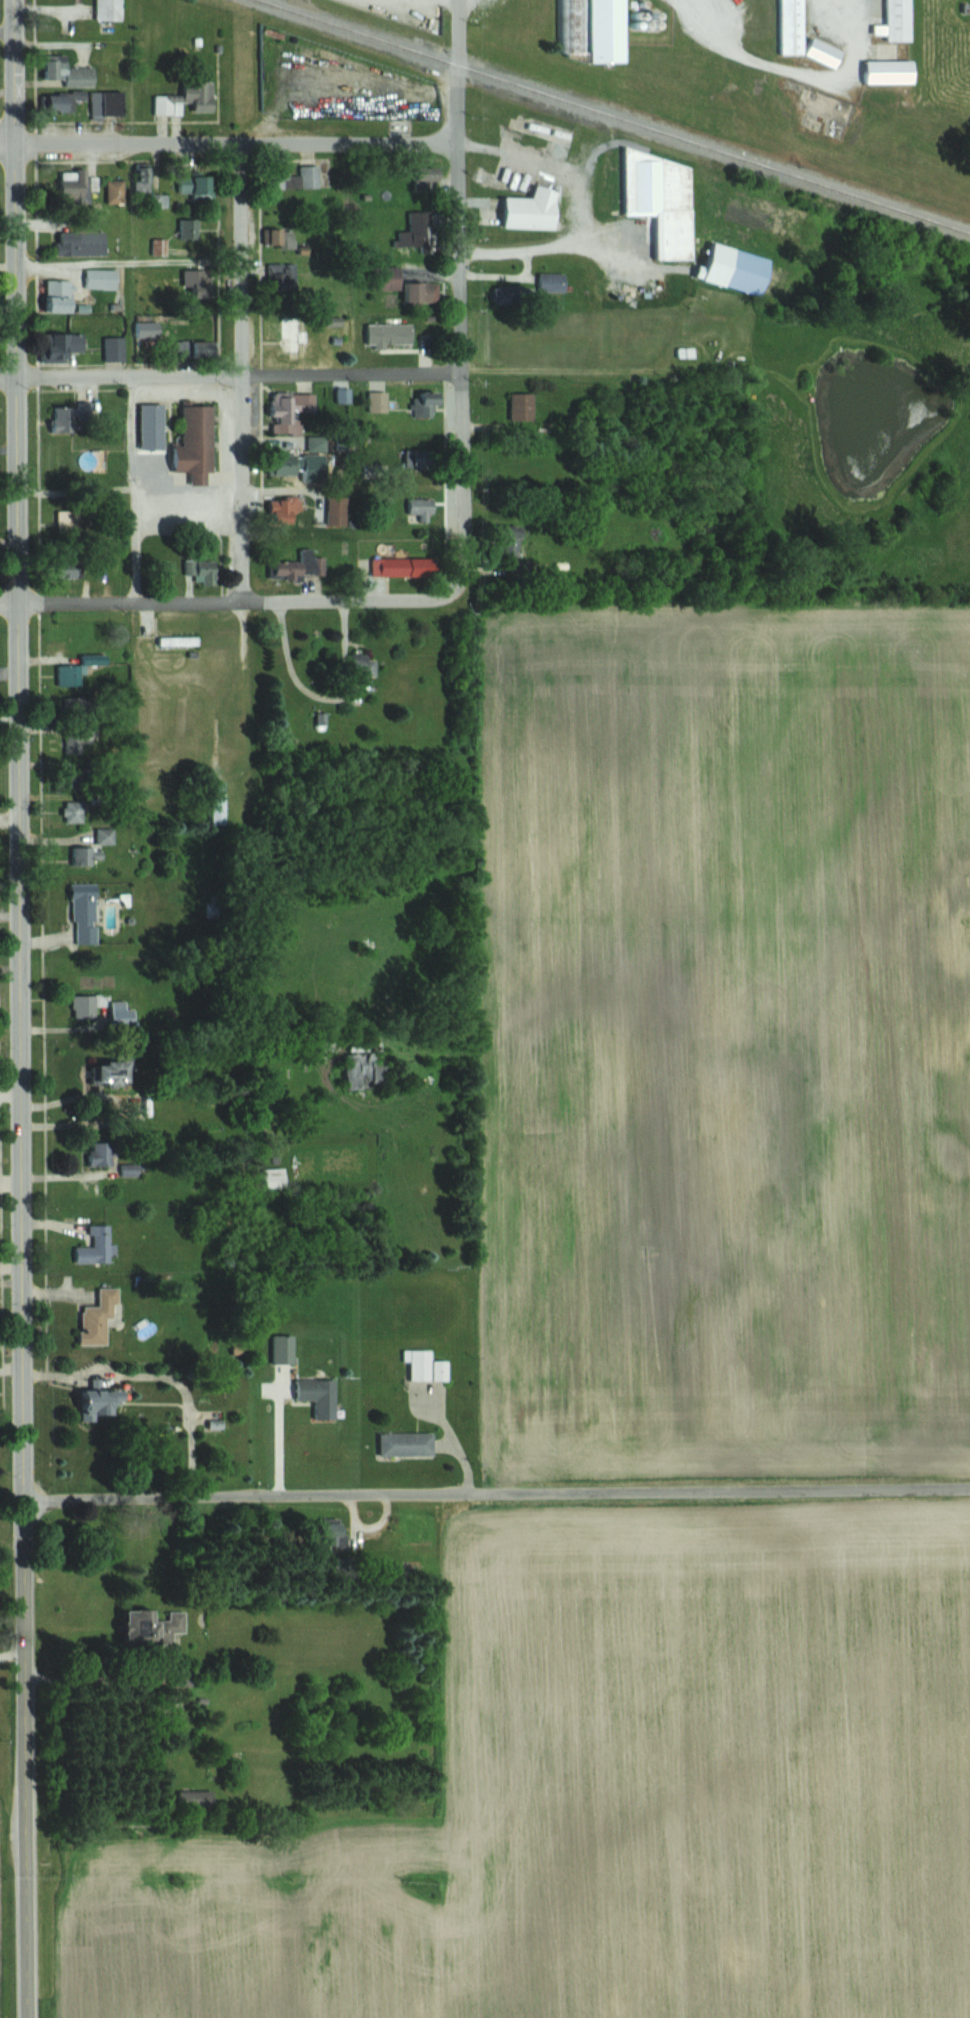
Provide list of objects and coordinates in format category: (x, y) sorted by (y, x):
building: (112, 10)
building: (893, 21)
building: (586, 29)
road: (7, 30)
building: (798, 36)
building: (70, 71)
building: (884, 72)
road: (801, 75)
building: (189, 99)
building: (86, 103)
railway: (614, 117)
road: (8, 143)
road: (237, 143)
building: (309, 177)
building: (197, 187)
building: (77, 190)
building: (118, 191)
building: (153, 195)
building: (537, 210)
building: (186, 229)
building: (420, 230)
building: (285, 238)
building: (83, 243)
road: (130, 260)
building: (723, 275)
building: (102, 279)
building: (414, 289)
road: (460, 289)
building: (61, 296)
building: (513, 296)
building: (150, 329)
building: (296, 335)
building: (401, 345)
building: (58, 347)
building: (116, 349)
building: (198, 351)
road: (244, 373)
road: (9, 379)
road: (241, 379)
building: (341, 396)
building: (380, 402)
building: (524, 407)
building: (294, 412)
building: (72, 419)
building: (154, 426)
building: (196, 444)
building: (421, 460)
building: (423, 510)
road: (149, 514)
building: (69, 520)
building: (402, 567)
building: (193, 568)
road: (245, 602)
road: (10, 605)
building: (355, 667)
building: (75, 811)
road: (21, 839)
building: (81, 855)
building: (86, 913)
building: (362, 1070)
building: (119, 1073)
building: (102, 1154)
building: (101, 1245)
building: (102, 1316)
building: (285, 1348)
building: (429, 1366)
road: (160, 1377)
building: (320, 1395)
building: (104, 1401)
road: (12, 1424)
road: (445, 1437)
road: (279, 1441)
building: (409, 1444)
road: (497, 1492)
building: (156, 1627)
road: (13, 1653)
road: (29, 1848)

